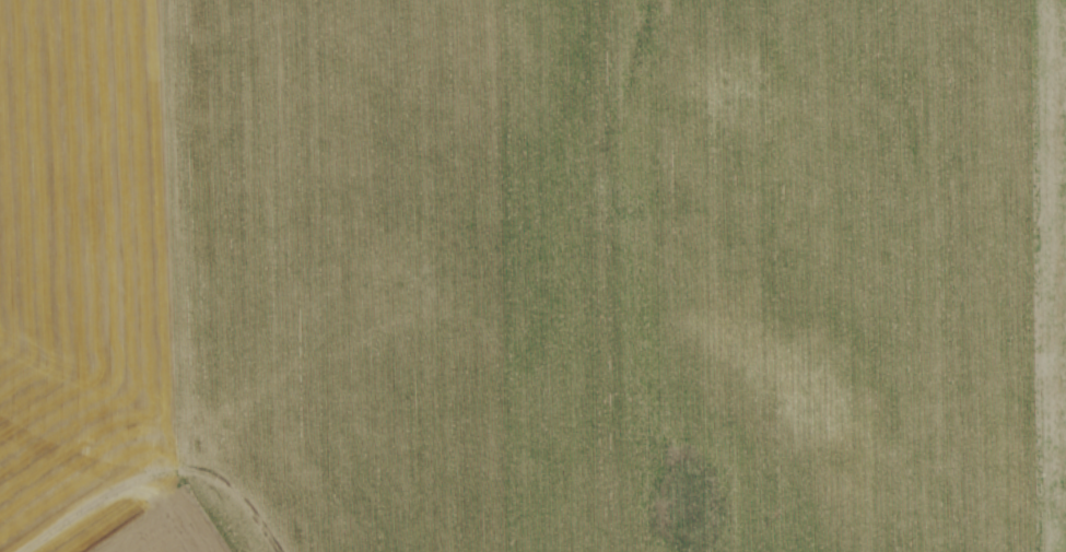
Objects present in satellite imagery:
airport: (164, 529)

